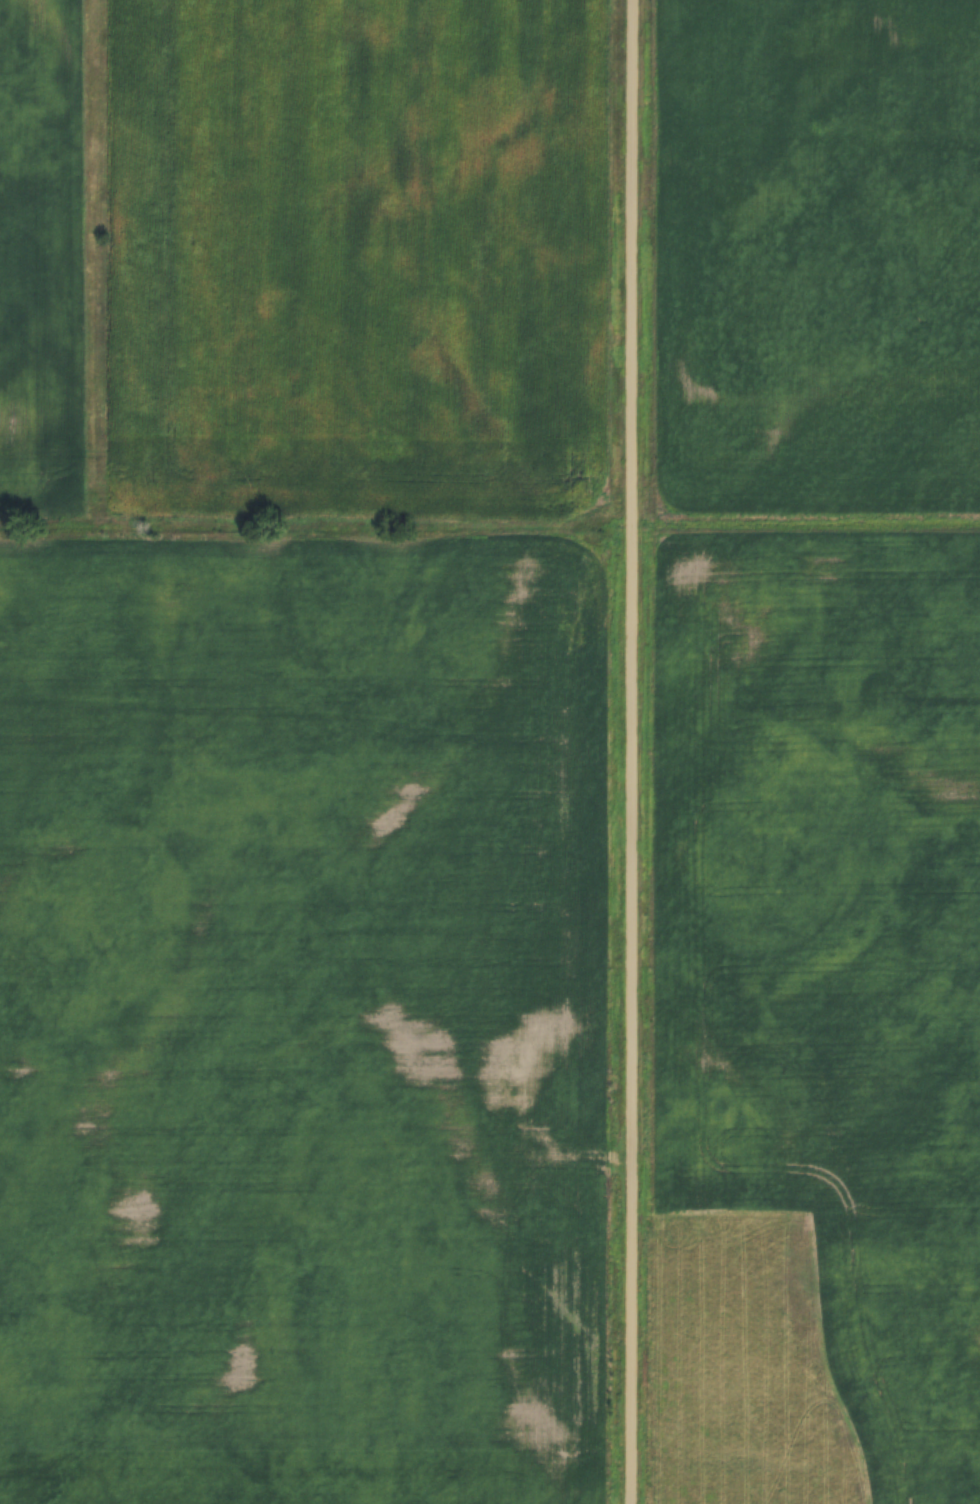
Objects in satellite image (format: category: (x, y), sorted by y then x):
road: (629, 752)

